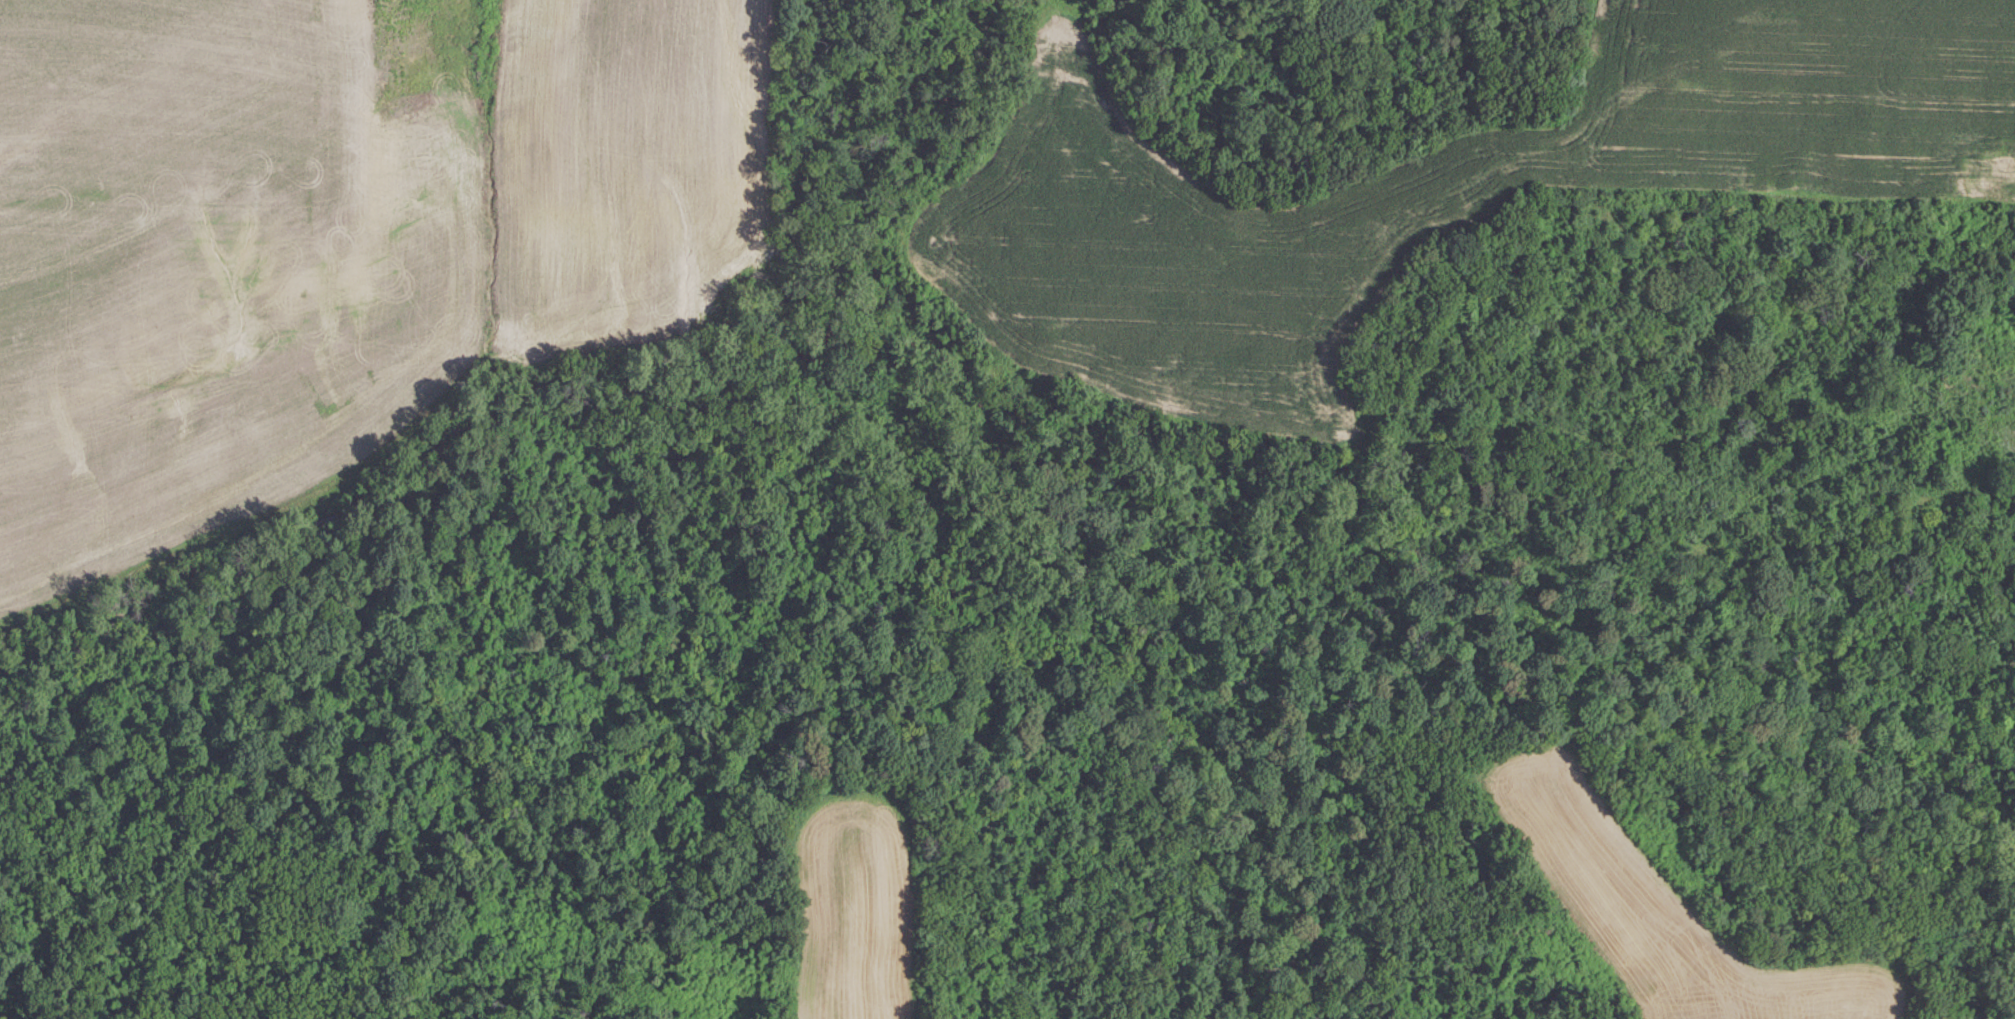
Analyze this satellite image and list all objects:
crop: (801, 0)
crop: (1436, 191)

